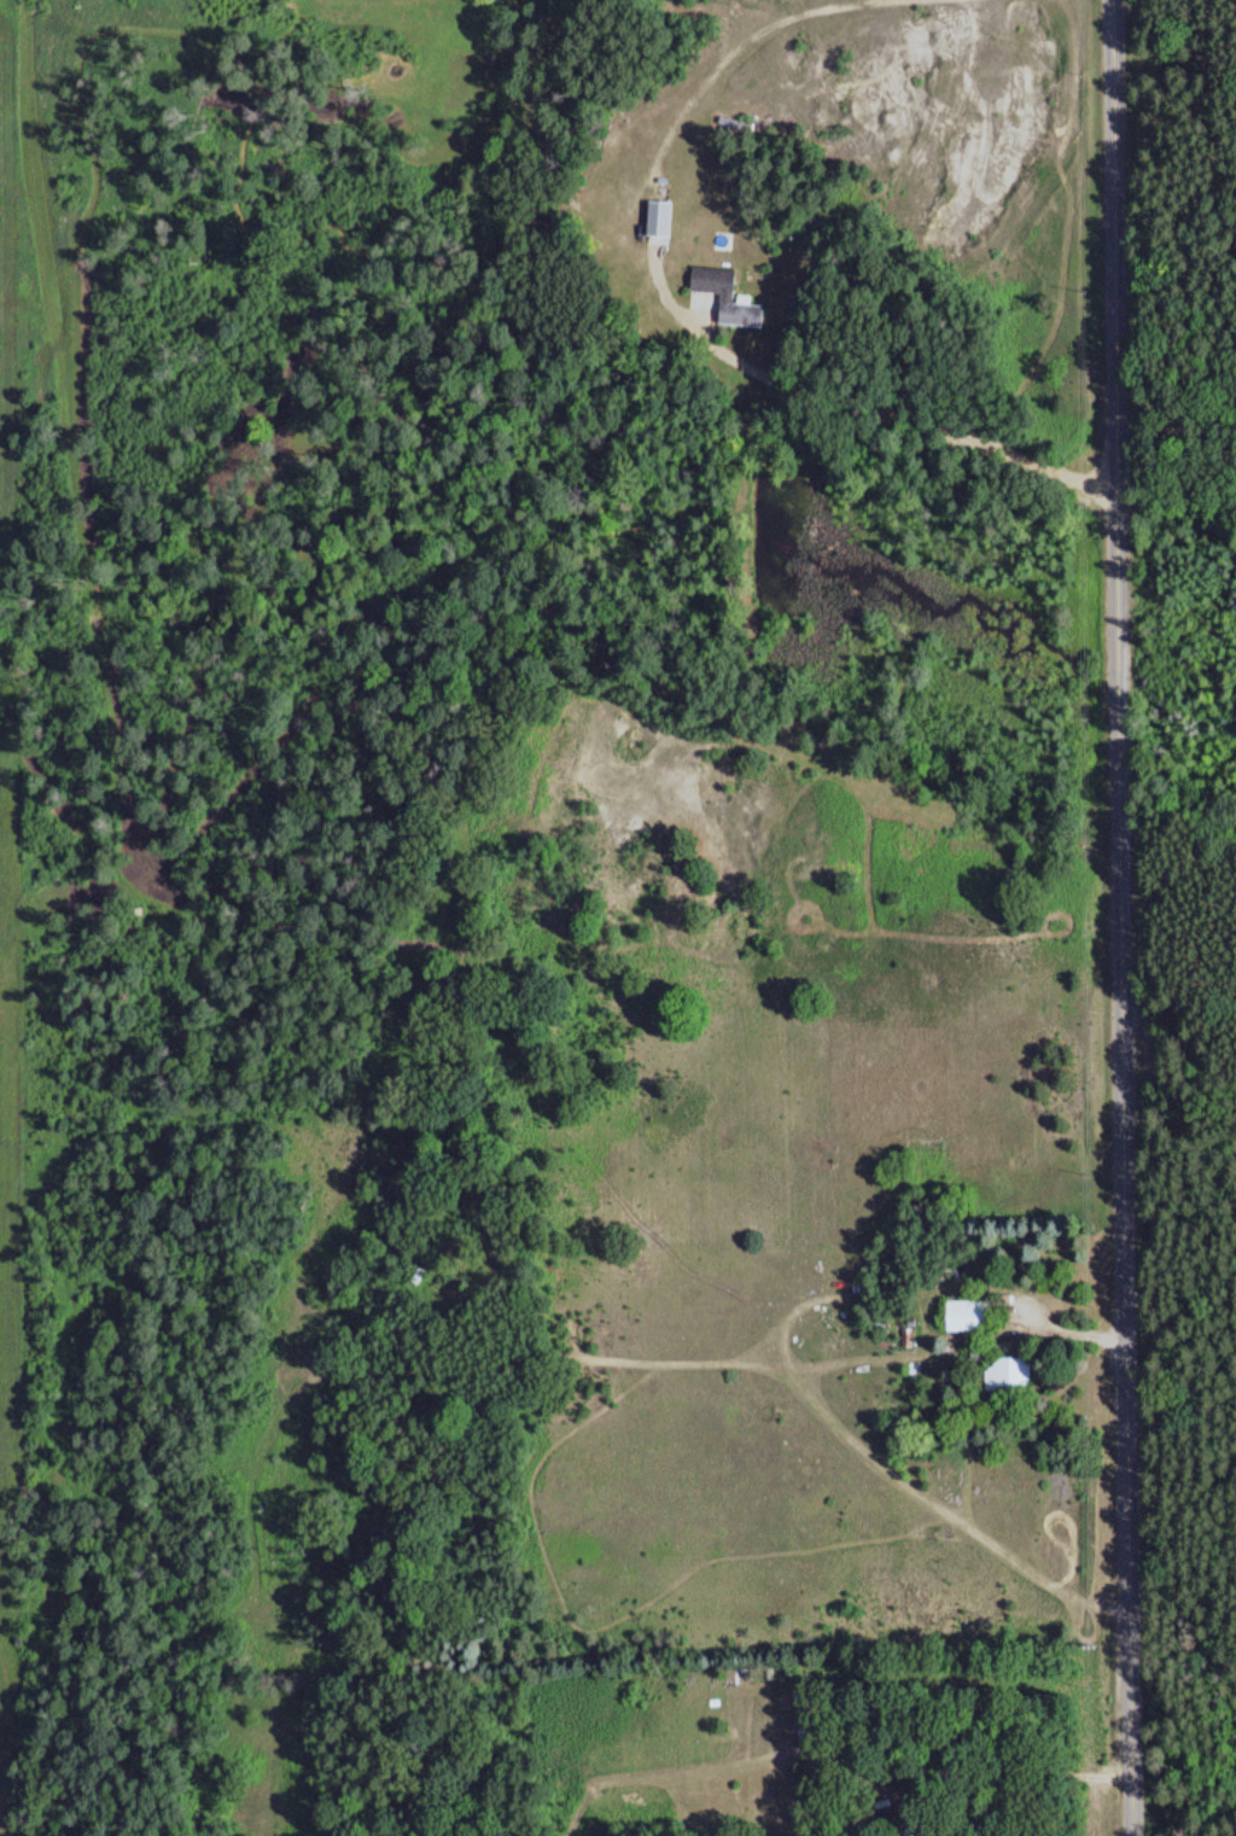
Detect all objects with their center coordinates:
building: (665, 217)
building: (730, 296)
road: (1120, 917)
building: (964, 1315)
building: (1007, 1372)
building: (805, 1715)

